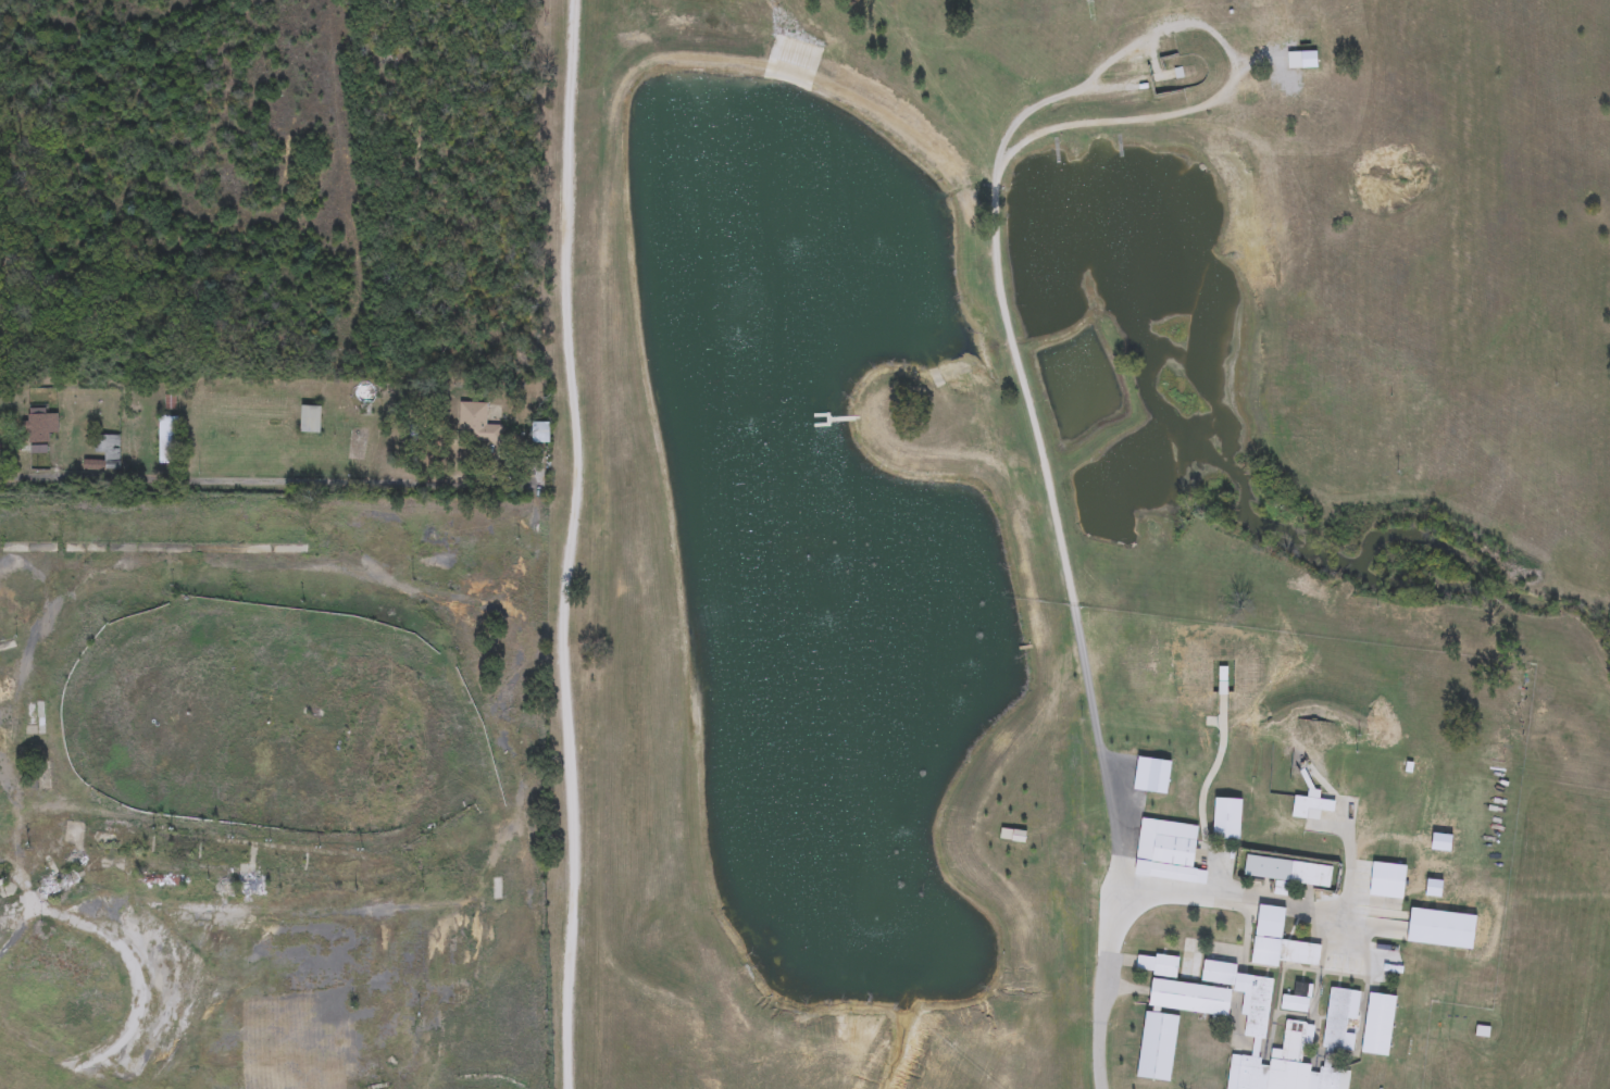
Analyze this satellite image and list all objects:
road: (1222, 46)
building: (310, 420)
building: (477, 426)
building: (39, 428)
building: (541, 433)
building: (166, 439)
building: (103, 453)
road: (266, 481)
road: (582, 544)
road: (1074, 622)
building: (35, 718)
building: (1313, 809)
building: (1228, 819)
building: (75, 835)
building: (1169, 852)
building: (1288, 871)
building: (0, 875)
building: (152, 879)
building: (1388, 881)
building: (60, 885)
building: (242, 886)
road: (1278, 901)
building: (9, 903)
building: (1284, 953)
building: (1157, 965)
building: (1190, 999)
building: (1295, 1004)
building: (1339, 1023)
building: (1380, 1026)
building: (1302, 1029)

